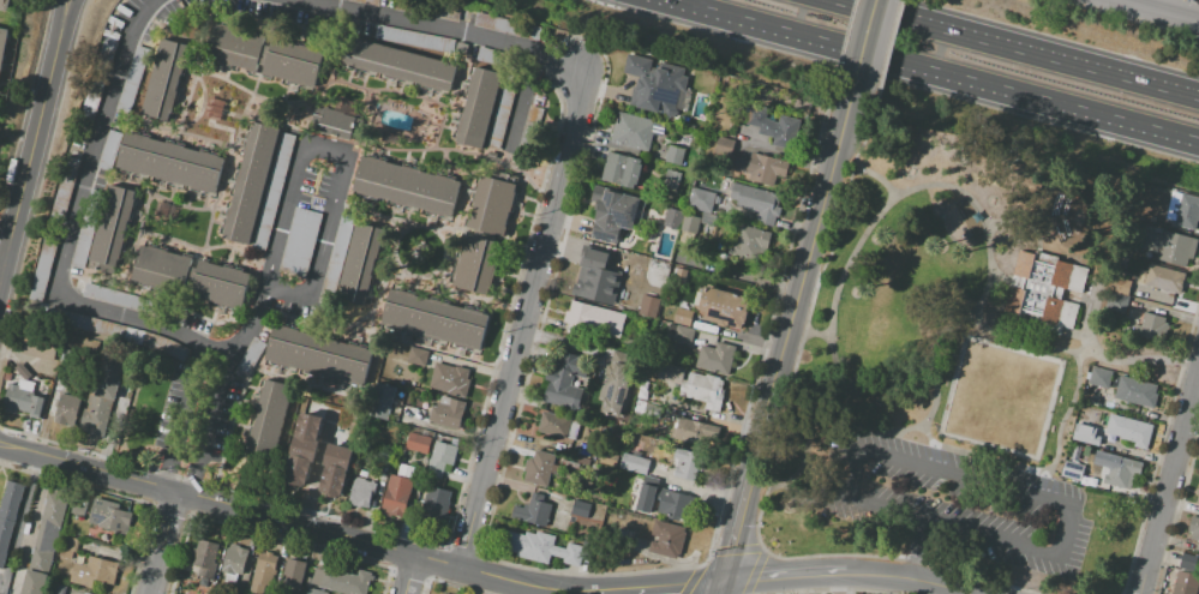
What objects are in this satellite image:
building: (366, 1)
building: (4, 5)
building: (427, 10)
road: (61, 11)
road: (67, 11)
road: (1155, 11)
building: (508, 26)
road: (440, 28)
building: (414, 38)
road: (865, 46)
building: (2, 47)
road: (1018, 47)
building: (233, 48)
building: (106, 53)
building: (492, 56)
building: (398, 64)
building: (292, 65)
road: (929, 71)
building: (132, 79)
building: (164, 80)
building: (654, 85)
building: (504, 94)
building: (92, 98)
building: (479, 108)
building: (332, 124)
building: (777, 128)
building: (528, 130)
building: (633, 132)
building: (724, 146)
road: (323, 149)
building: (109, 150)
building: (676, 151)
road: (30, 152)
building: (169, 162)
building: (759, 168)
building: (621, 170)
road: (867, 176)
building: (671, 181)
building: (250, 182)
building: (406, 187)
building: (65, 188)
building: (274, 192)
building: (756, 203)
building: (492, 205)
building: (706, 212)
building: (611, 214)
building: (1187, 214)
road: (283, 216)
building: (672, 218)
road: (1014, 221)
building: (110, 229)
road: (71, 232)
building: (749, 242)
building: (300, 244)
road: (319, 245)
building: (1168, 246)
building: (82, 247)
building: (337, 252)
road: (990, 257)
building: (595, 260)
road: (2, 264)
building: (360, 264)
building: (475, 264)
building: (42, 269)
building: (161, 270)
road: (808, 274)
building: (679, 277)
building: (1161, 278)
building: (220, 286)
building: (1120, 287)
building: (594, 288)
building: (1043, 289)
building: (115, 298)
building: (1116, 304)
building: (648, 306)
building: (723, 307)
flagpole: (975, 316)
building: (683, 317)
building: (434, 319)
road: (524, 319)
building: (594, 319)
building: (84, 324)
road: (251, 326)
building: (1150, 326)
road: (811, 332)
building: (683, 335)
building: (41, 344)
road: (1085, 354)
building: (317, 355)
road: (1103, 355)
building: (418, 356)
building: (250, 358)
building: (715, 358)
road: (1078, 366)
park: (959, 367)
building: (23, 372)
building: (670, 373)
building: (1099, 378)
building: (449, 380)
building: (564, 384)
building: (615, 390)
building: (703, 390)
building: (1135, 392)
building: (102, 395)
park: (999, 397)
building: (22, 401)
building: (380, 401)
building: (648, 410)
building: (66, 412)
building: (446, 413)
building: (1091, 414)
building: (1099, 416)
road: (180, 418)
road: (924, 418)
building: (268, 420)
building: (558, 426)
road: (208, 428)
building: (1128, 431)
road: (109, 432)
building: (695, 433)
building: (1084, 433)
building: (418, 443)
building: (1099, 444)
building: (302, 452)
building: (1129, 452)
building: (440, 458)
building: (607, 458)
road: (990, 458)
building: (635, 463)
building: (688, 464)
building: (1073, 464)
building: (539, 468)
road: (317, 470)
building: (335, 472)
building: (1122, 472)
road: (1168, 478)
road: (1039, 486)
road: (996, 487)
building: (398, 491)
building: (362, 493)
building: (657, 498)
road: (814, 499)
building: (1198, 499)
parking lot: (960, 503)
building: (436, 506)
building: (54, 509)
building: (580, 509)
building: (532, 510)
building: (8, 516)
building: (110, 516)
road: (745, 520)
road: (18, 521)
road: (296, 526)
building: (1194, 527)
building: (666, 539)
road: (163, 544)
building: (44, 545)
building: (66, 546)
building: (541, 547)
road: (915, 548)
building: (205, 558)
building: (233, 559)
building: (95, 571)
building: (263, 572)
building: (294, 574)
road: (410, 575)
building: (1187, 575)
road: (909, 577)
road: (784, 578)
building: (341, 581)
building: (34, 582)
traffic signals: (721, 582)
road: (659, 586)
road: (719, 588)
building: (56, 589)
building: (314, 592)
building: (85, 593)
building: (304, 593)
building: (442, 593)

